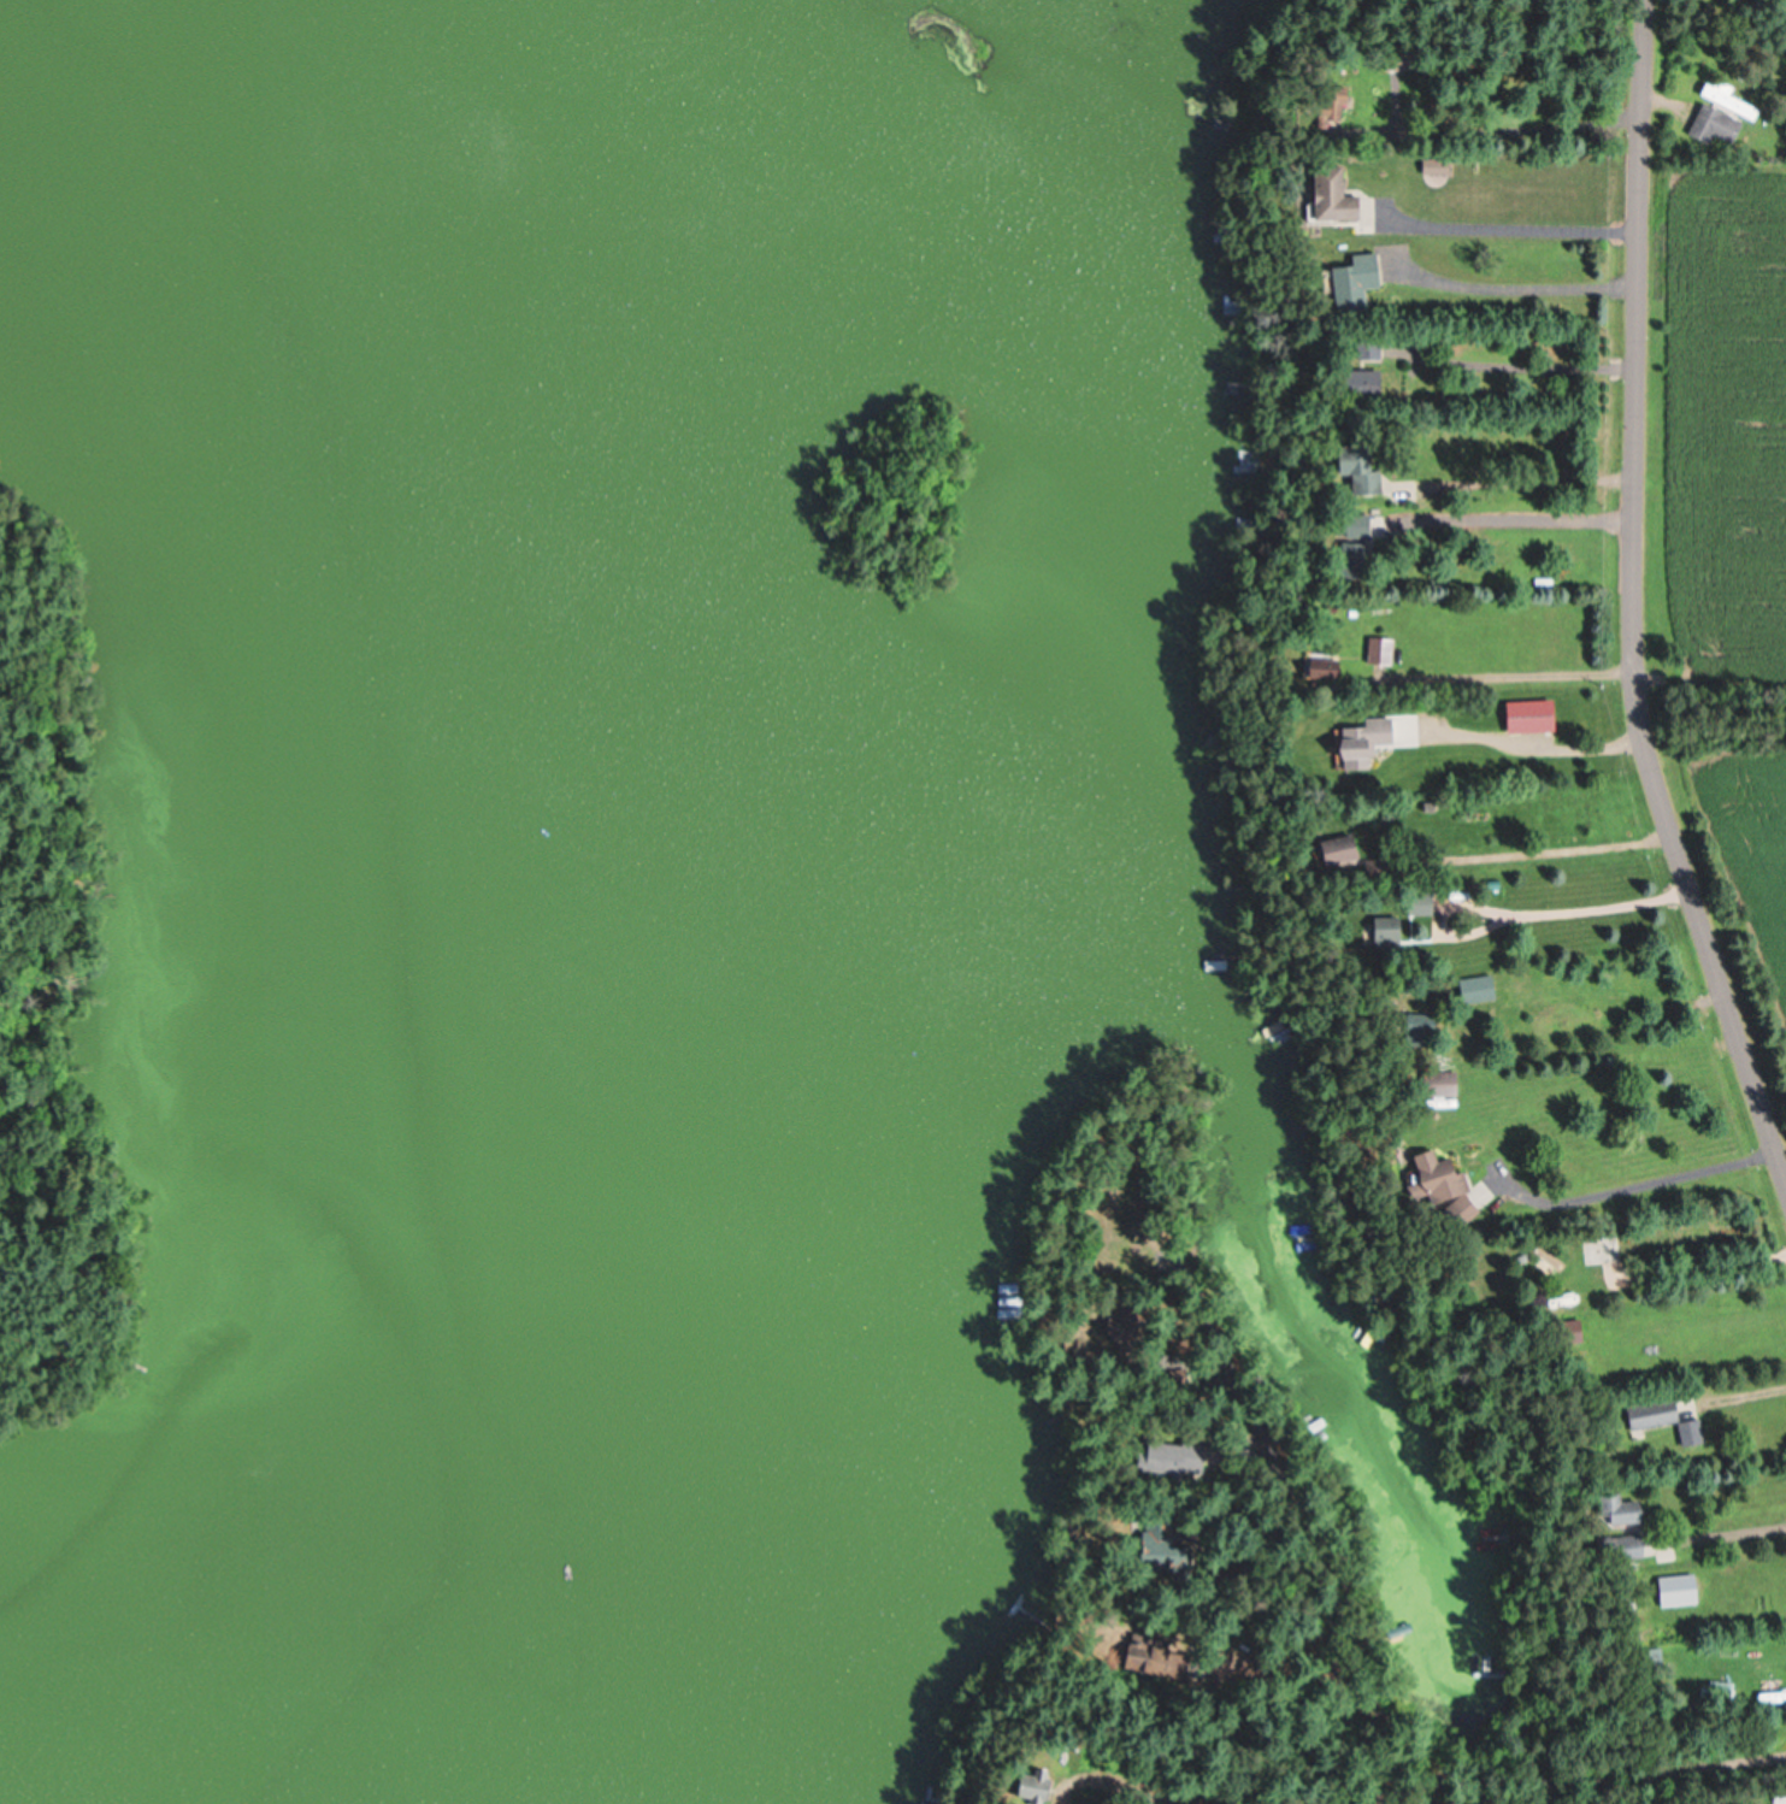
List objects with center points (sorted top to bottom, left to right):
road: (1503, 92)
building: (1722, 98)
building: (1319, 101)
building: (1710, 125)
building: (1430, 165)
building: (1320, 193)
building: (1344, 276)
building: (1346, 379)
building: (1346, 466)
building: (1346, 525)
building: (1343, 560)
road: (1631, 602)
building: (1375, 649)
road: (1709, 709)
building: (1354, 741)
building: (1520, 774)
building: (1324, 848)
building: (1413, 902)
building: (1378, 930)
building: (1472, 988)
building: (1431, 1083)
building: (1428, 1185)
building: (1562, 1331)
building: (1648, 1413)
building: (1157, 1456)
building: (1610, 1507)
building: (1617, 1547)
building: (1670, 1590)
road: (1710, 1758)

